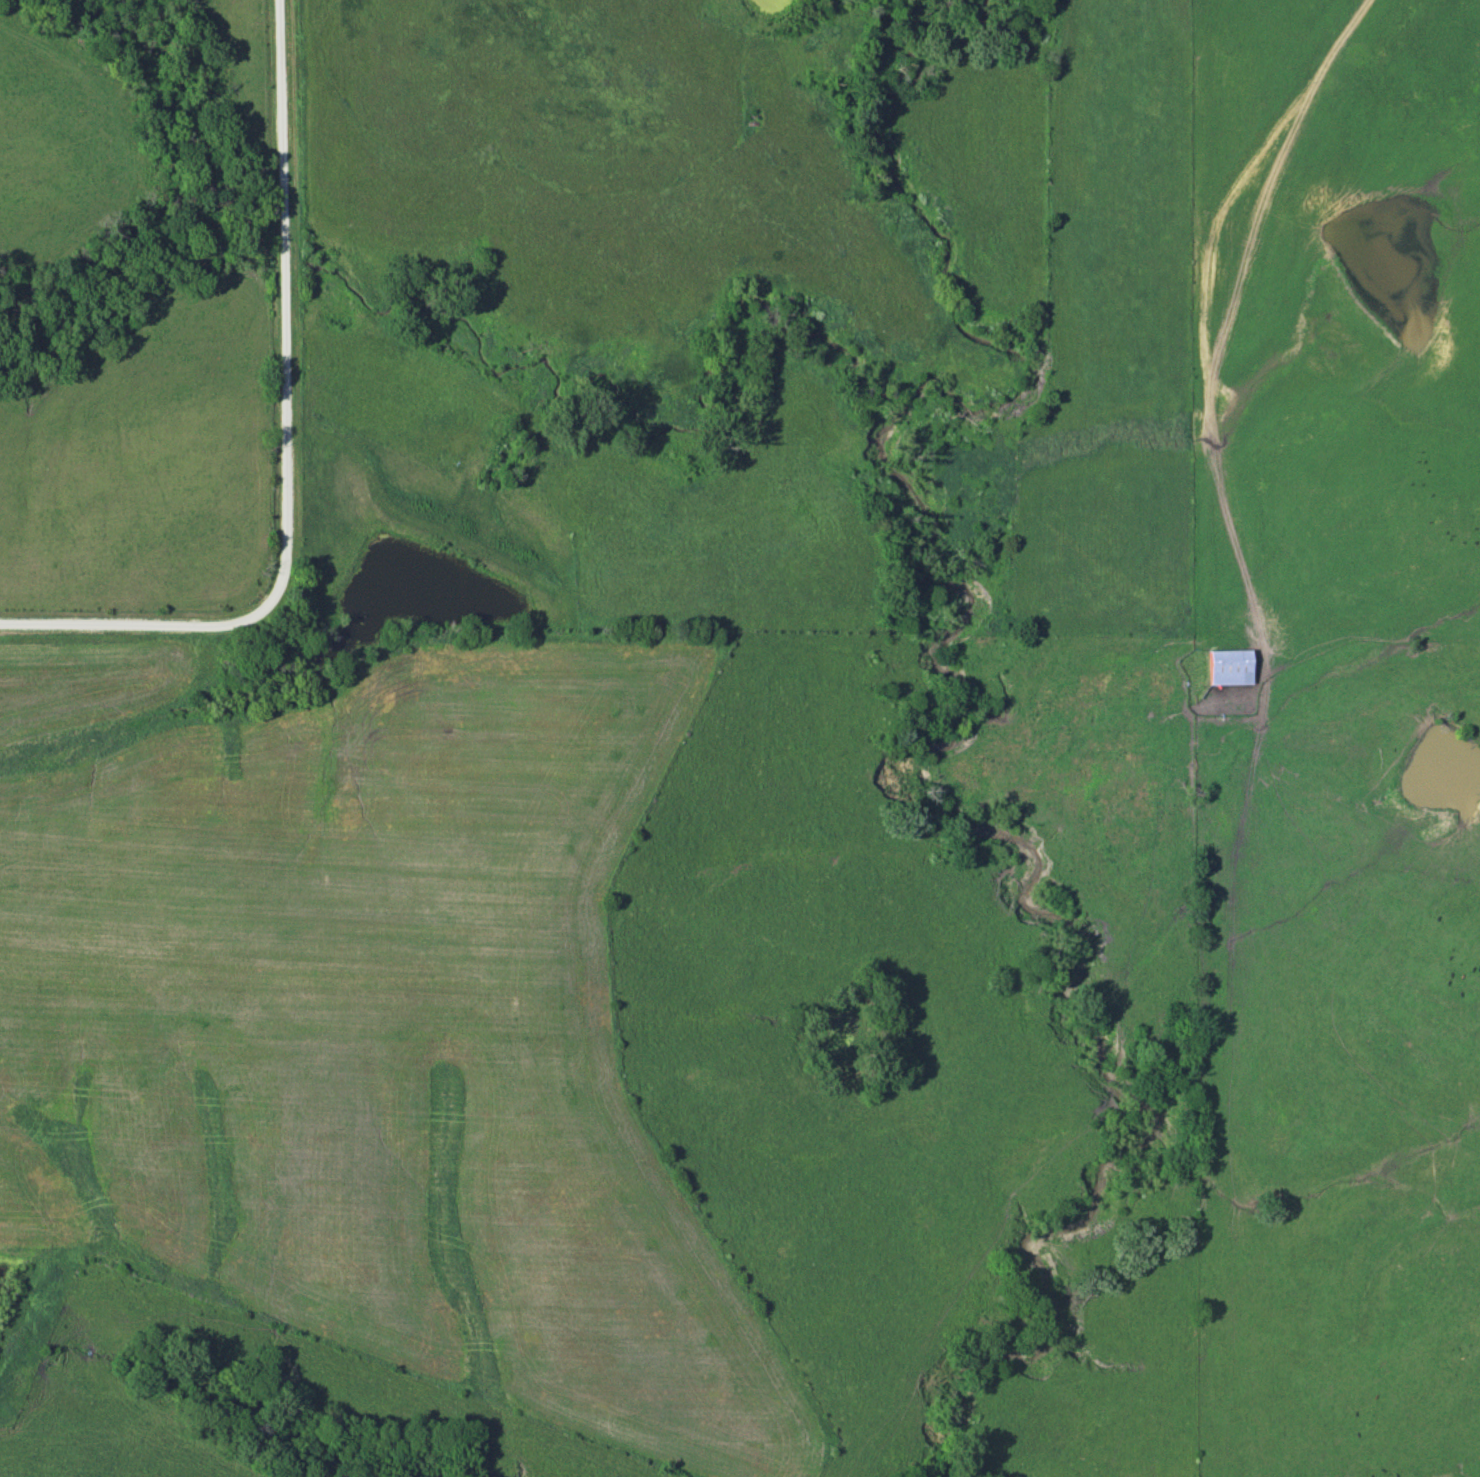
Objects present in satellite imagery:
road: (285, 441)
building: (1233, 666)

